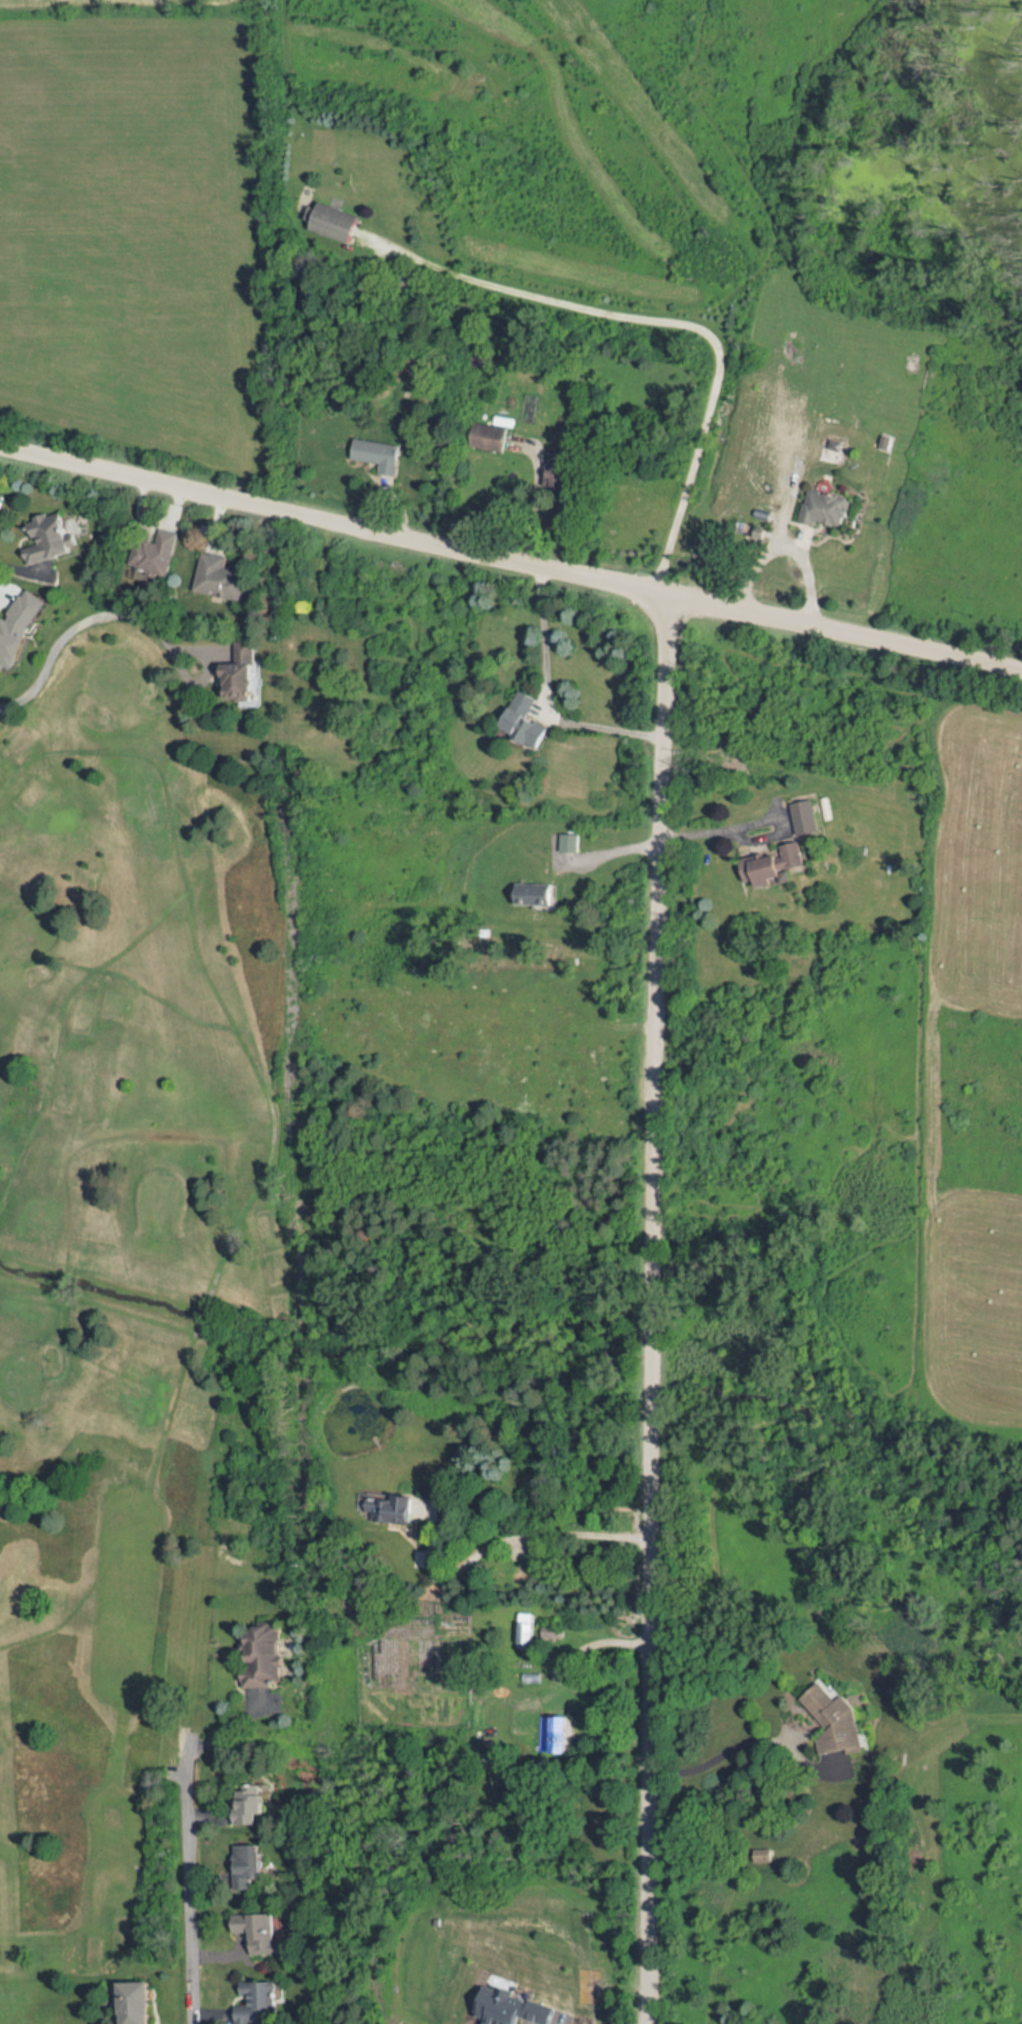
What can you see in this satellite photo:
building: (338, 225)
road: (666, 323)
building: (490, 442)
building: (380, 454)
building: (557, 470)
building: (2, 501)
road: (531, 508)
building: (821, 508)
building: (53, 538)
building: (153, 555)
road: (510, 561)
road: (806, 575)
building: (223, 579)
building: (16, 625)
road: (83, 625)
building: (247, 671)
road: (543, 698)
building: (527, 721)
road: (774, 808)
building: (802, 816)
road: (746, 840)
building: (571, 843)
road: (608, 857)
building: (769, 865)
building: (541, 895)
park: (125, 1270)
crop: (973, 1301)
road: (655, 1309)
building: (387, 1507)
road: (520, 1536)
road: (596, 1638)
building: (267, 1659)
building: (831, 1721)
road: (750, 1740)
building: (249, 1806)
building: (760, 1855)
building: (250, 1863)
road: (194, 1877)
building: (263, 1932)
building: (142, 2003)
building: (253, 2003)

